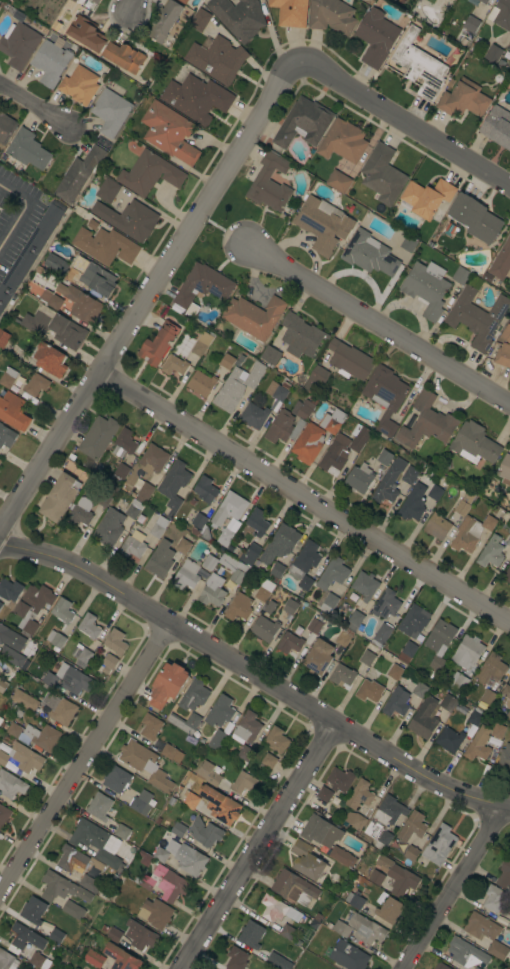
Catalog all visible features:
building: (96, 1)
building: (184, 1)
building: (484, 1)
road: (132, 5)
building: (290, 12)
building: (500, 14)
building: (331, 16)
building: (238, 17)
building: (165, 20)
building: (200, 20)
building: (471, 23)
building: (87, 33)
building: (376, 37)
building: (19, 41)
building: (509, 47)
building: (509, 49)
building: (493, 53)
building: (124, 56)
building: (216, 58)
building: (51, 61)
building: (419, 65)
building: (79, 85)
building: (196, 98)
building: (463, 99)
road: (34, 104)
building: (110, 111)
road: (405, 120)
building: (303, 123)
building: (497, 126)
building: (6, 127)
building: (168, 132)
building: (343, 141)
building: (28, 149)
building: (149, 173)
building: (79, 174)
building: (382, 174)
building: (268, 181)
building: (338, 181)
building: (107, 190)
building: (427, 197)
road: (22, 211)
building: (128, 218)
building: (474, 218)
building: (322, 223)
building: (92, 225)
building: (408, 243)
building: (105, 245)
building: (369, 254)
building: (28, 255)
building: (501, 261)
building: (56, 264)
building: (461, 275)
building: (94, 276)
building: (488, 277)
building: (203, 285)
building: (426, 287)
road: (148, 293)
building: (51, 299)
building: (80, 303)
building: (254, 316)
building: (476, 317)
building: (36, 322)
road: (378, 323)
building: (67, 331)
building: (506, 333)
building: (300, 335)
building: (3, 338)
building: (202, 343)
building: (158, 344)
building: (270, 355)
building: (503, 355)
building: (241, 358)
building: (50, 359)
building: (349, 360)
building: (227, 361)
building: (174, 365)
building: (8, 377)
building: (315, 379)
building: (201, 383)
building: (35, 385)
building: (237, 385)
building: (276, 391)
building: (385, 395)
building: (303, 408)
building: (13, 411)
building: (253, 415)
building: (332, 421)
building: (426, 422)
building: (283, 427)
building: (6, 436)
building: (359, 437)
building: (97, 439)
building: (124, 443)
building: (308, 443)
building: (474, 443)
building: (335, 455)
building: (384, 458)
building: (152, 459)
building: (0, 461)
building: (504, 467)
building: (120, 472)
building: (409, 475)
building: (359, 478)
building: (389, 482)
building: (173, 485)
building: (205, 489)
building: (143, 490)
building: (435, 492)
road: (305, 494)
building: (106, 496)
building: (59, 497)
building: (413, 503)
building: (464, 503)
building: (133, 508)
building: (229, 508)
building: (80, 512)
building: (257, 521)
building: (489, 522)
building: (158, 526)
building: (201, 526)
building: (437, 526)
building: (109, 527)
building: (466, 534)
building: (225, 537)
building: (508, 541)
building: (280, 543)
building: (133, 544)
building: (182, 546)
building: (491, 552)
building: (250, 554)
building: (305, 559)
building: (158, 562)
building: (209, 562)
building: (234, 567)
building: (277, 570)
building: (332, 573)
building: (186, 575)
building: (507, 575)
building: (305, 583)
building: (365, 585)
building: (10, 589)
building: (264, 590)
building: (211, 592)
building: (328, 602)
building: (1, 604)
building: (386, 604)
building: (290, 606)
building: (32, 607)
building: (239, 607)
building: (270, 607)
building: (62, 610)
building: (356, 617)
building: (413, 620)
building: (88, 626)
building: (314, 626)
building: (264, 629)
building: (382, 633)
building: (438, 635)
building: (344, 636)
building: (11, 638)
building: (55, 639)
building: (115, 641)
building: (289, 643)
building: (467, 651)
building: (407, 652)
building: (81, 655)
building: (11, 656)
building: (318, 656)
building: (367, 657)
building: (436, 663)
building: (107, 664)
building: (491, 668)
building: (394, 671)
building: (342, 674)
road: (254, 675)
building: (433, 677)
building: (67, 679)
building: (459, 681)
building: (167, 684)
building: (3, 685)
building: (369, 690)
building: (419, 690)
building: (507, 694)
building: (194, 695)
building: (488, 697)
building: (25, 700)
building: (396, 702)
building: (448, 702)
building: (59, 708)
building: (220, 711)
building: (508, 714)
building: (475, 716)
building: (424, 718)
building: (509, 720)
building: (185, 722)
building: (150, 726)
building: (246, 728)
building: (497, 731)
building: (35, 735)
building: (217, 739)
building: (449, 739)
building: (277, 740)
building: (478, 745)
road: (83, 753)
building: (171, 753)
building: (245, 753)
building: (20, 758)
building: (504, 759)
building: (269, 760)
building: (145, 764)
building: (208, 773)
building: (116, 779)
building: (339, 779)
building: (243, 782)
building: (11, 785)
building: (324, 794)
building: (359, 795)
building: (141, 802)
building: (192, 802)
building: (220, 805)
building: (99, 806)
building: (4, 815)
building: (355, 820)
building: (384, 821)
building: (412, 826)
building: (178, 829)
building: (122, 831)
building: (321, 832)
building: (205, 833)
building: (98, 843)
building: (439, 845)
road: (256, 847)
building: (411, 853)
building: (509, 853)
building: (160, 854)
building: (342, 856)
building: (145, 858)
building: (76, 860)
building: (191, 861)
building: (307, 861)
building: (504, 874)
building: (398, 876)
building: (376, 877)
building: (89, 883)
building: (166, 883)
building: (294, 887)
road: (450, 887)
building: (61, 888)
building: (493, 898)
building: (354, 899)
building: (33, 910)
building: (73, 910)
building: (279, 910)
building: (389, 910)
building: (155, 913)
building: (509, 925)
building: (341, 928)
building: (366, 929)
building: (287, 931)
building: (486, 933)
building: (251, 934)
building: (56, 935)
building: (114, 935)
building: (139, 935)
building: (24, 938)
building: (465, 952)
building: (348, 955)
building: (121, 957)
building: (94, 958)
building: (236, 958)
building: (7, 960)
building: (39, 961)
building: (278, 961)
building: (441, 966)
building: (476, 968)

